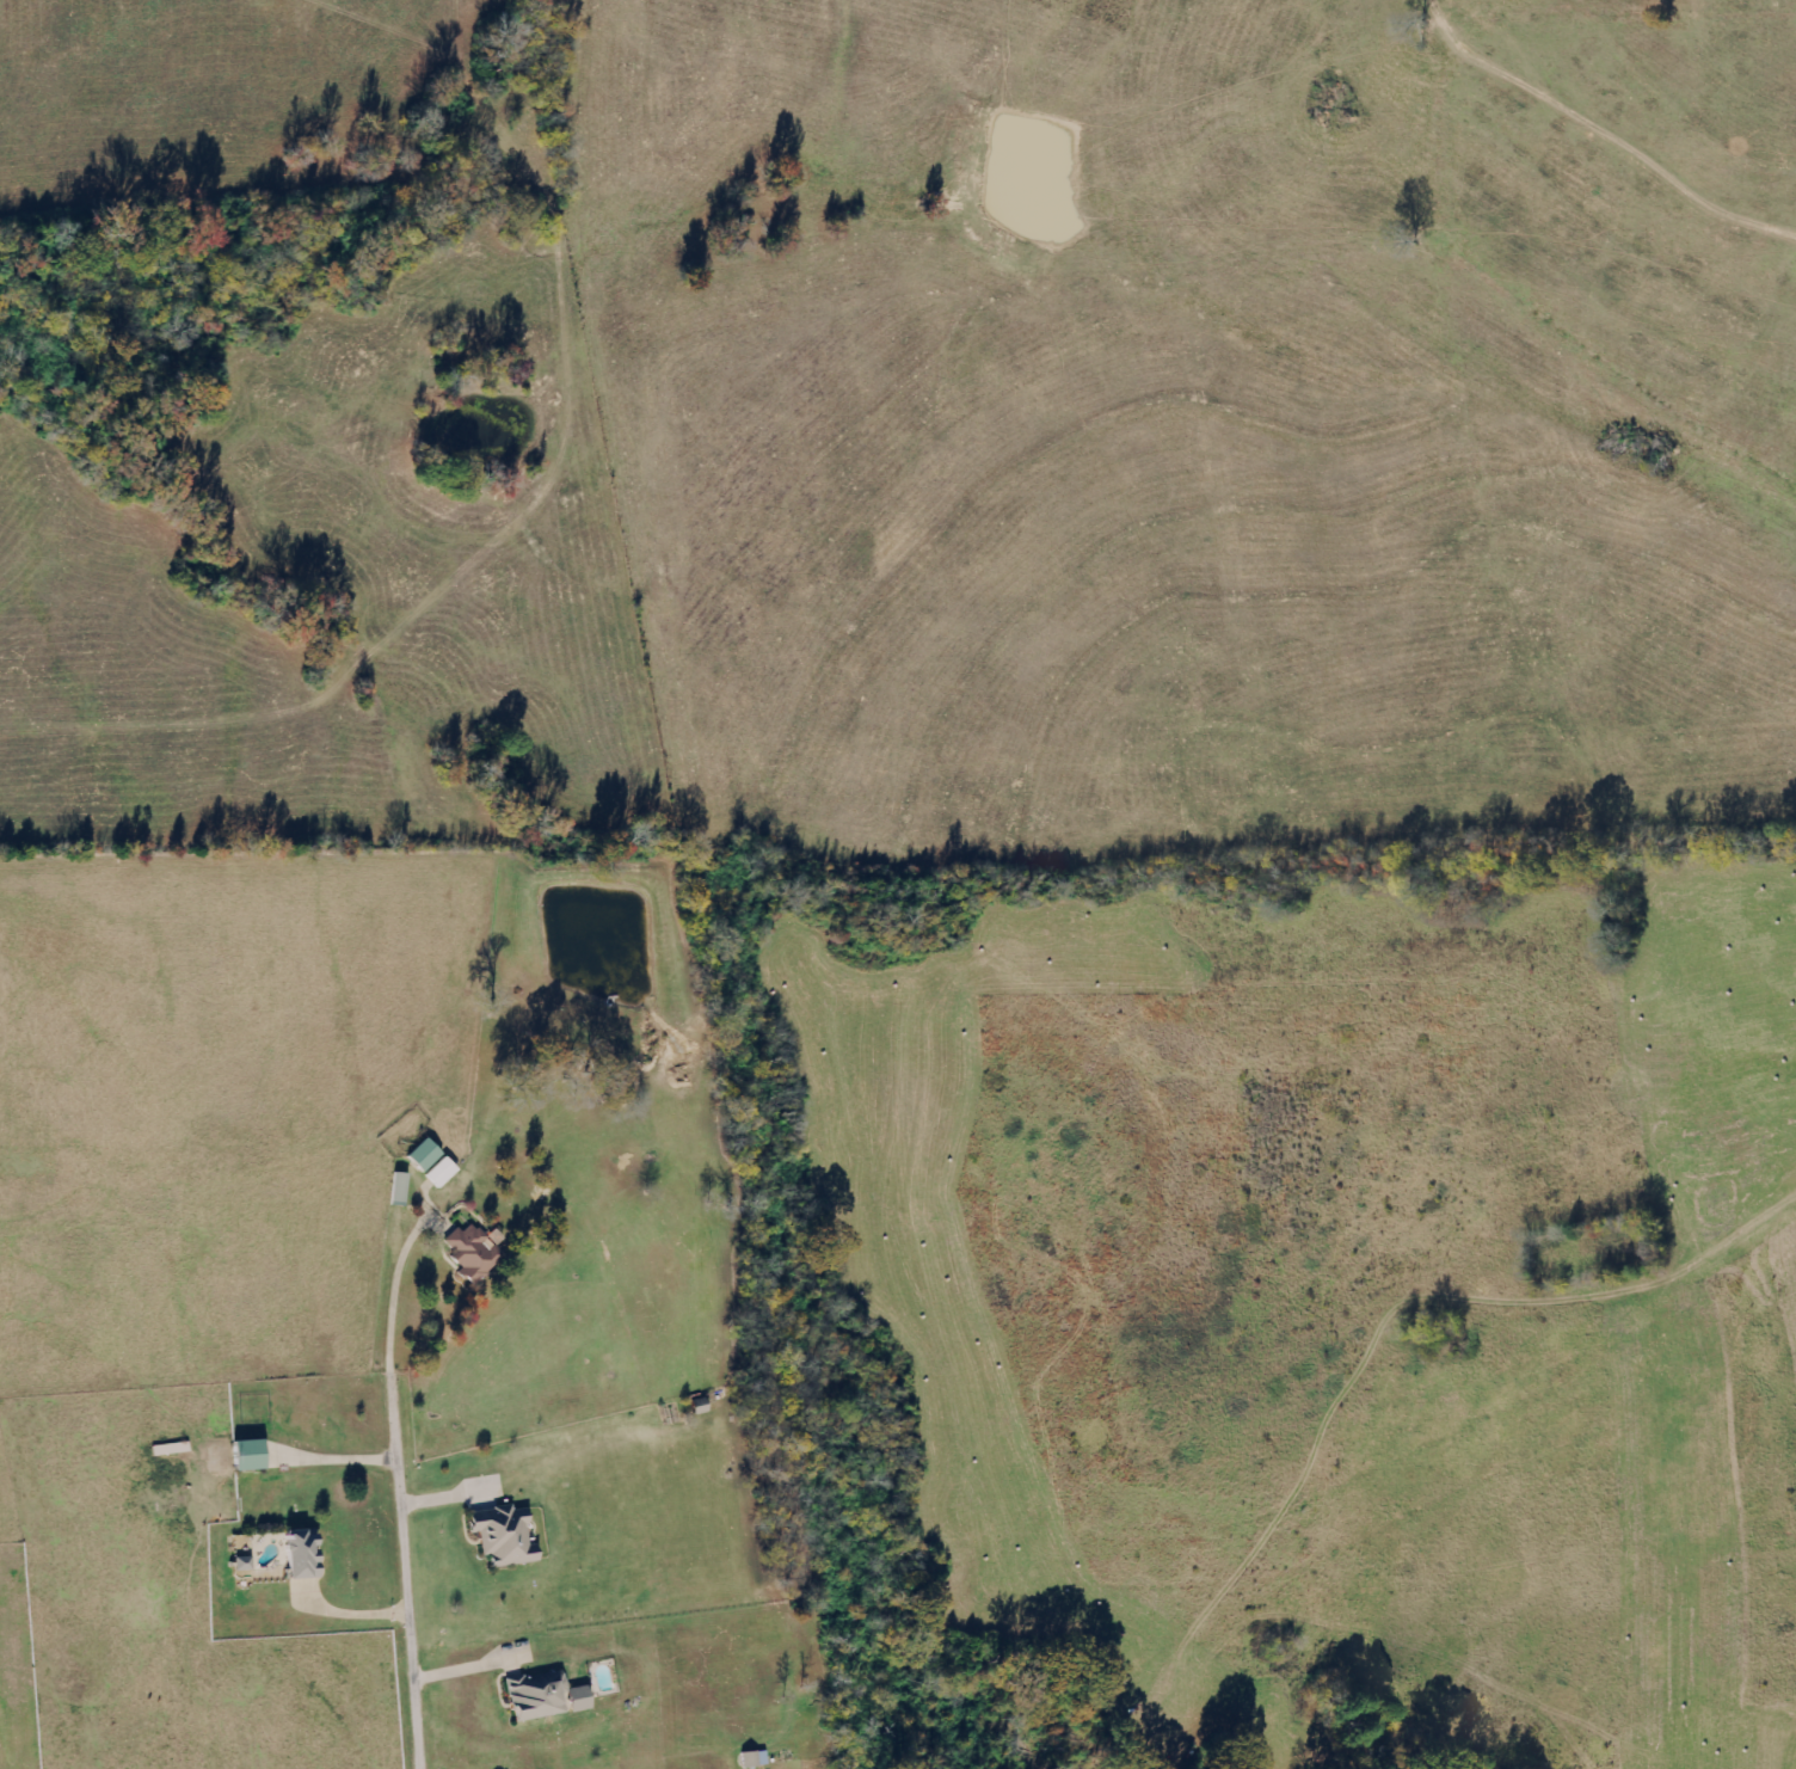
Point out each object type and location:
building: (423, 1156)
building: (439, 1173)
building: (399, 1190)
building: (472, 1252)
building: (245, 1454)
building: (502, 1536)
road: (399, 1543)
building: (299, 1554)
building: (240, 1562)
building: (541, 1697)
building: (752, 1758)

